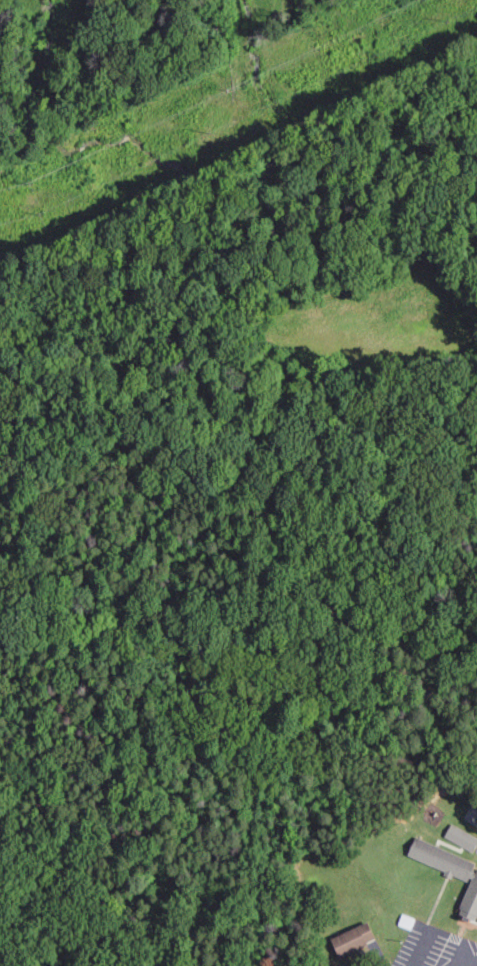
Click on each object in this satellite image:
road: (335, 10)
building: (462, 837)
building: (455, 843)
building: (463, 880)
building: (346, 944)

